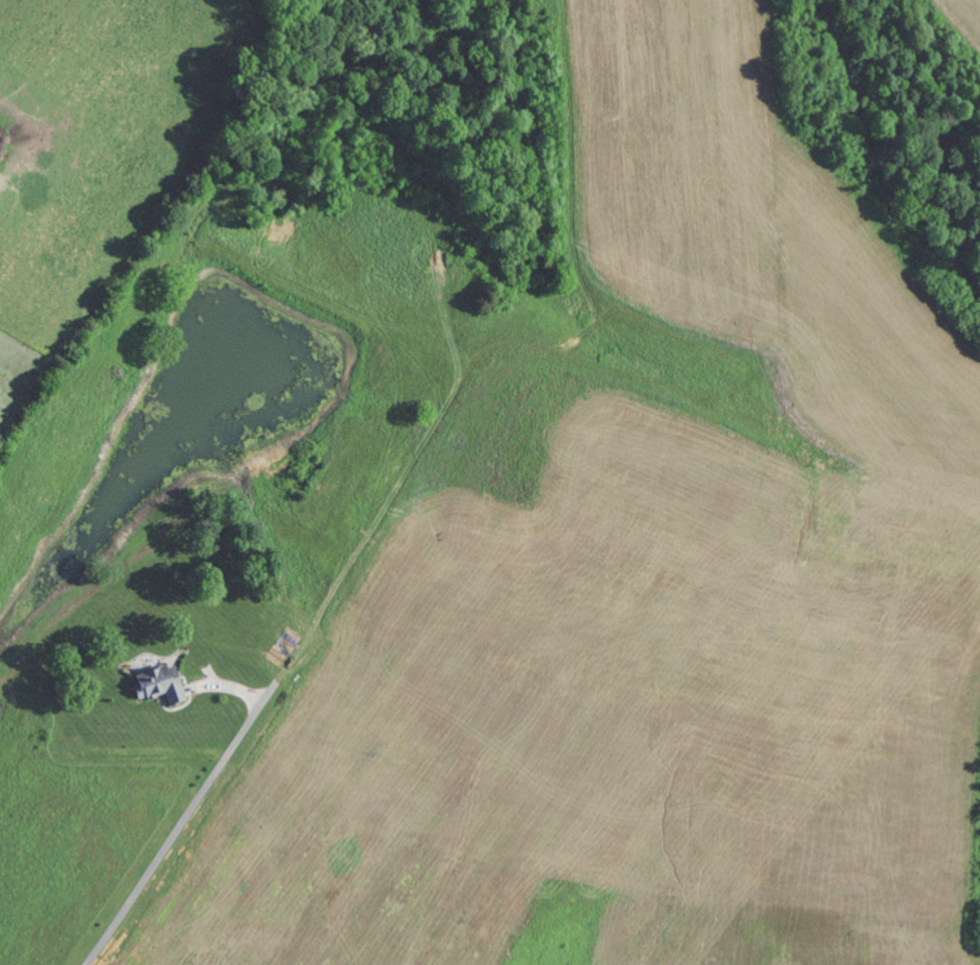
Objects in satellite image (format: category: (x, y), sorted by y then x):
road: (303, 739)

